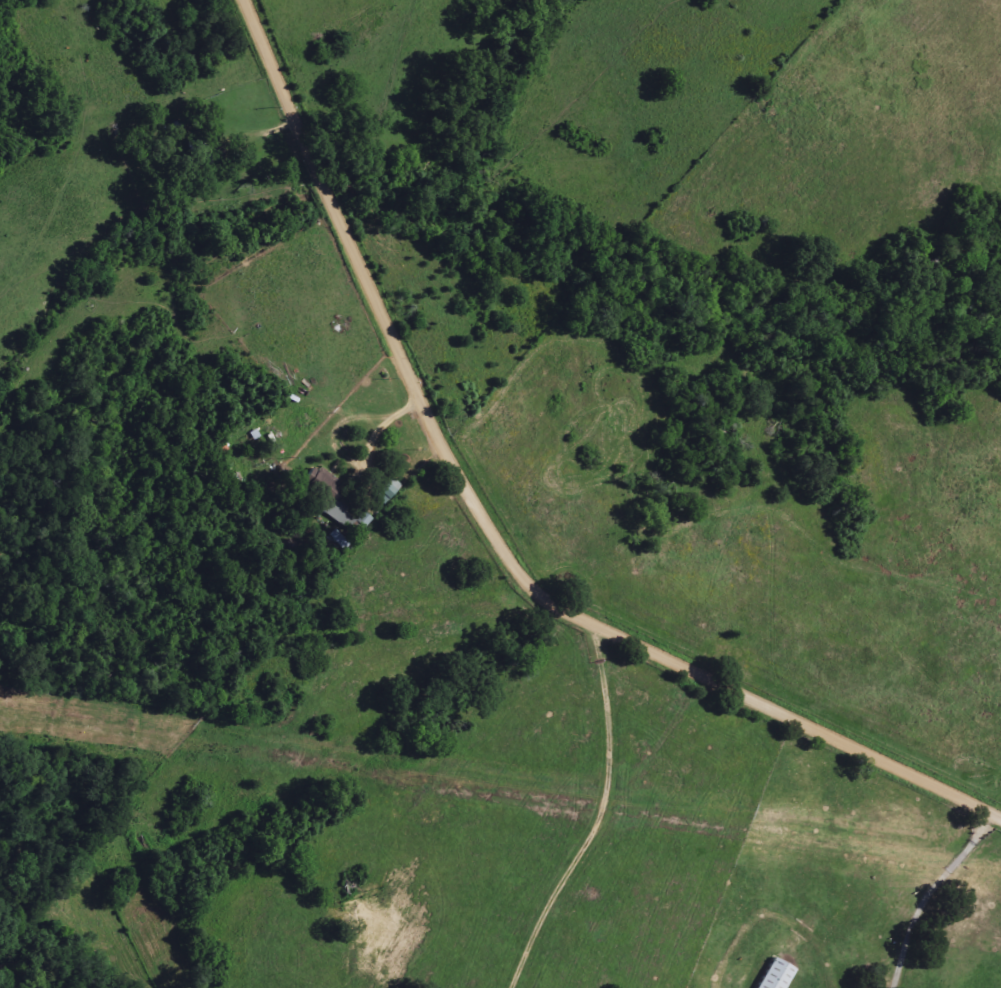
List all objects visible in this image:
building: (199, 153)
road: (381, 419)
building: (329, 500)
building: (363, 521)
road: (495, 533)
road: (597, 815)
road: (924, 893)
building: (775, 975)

